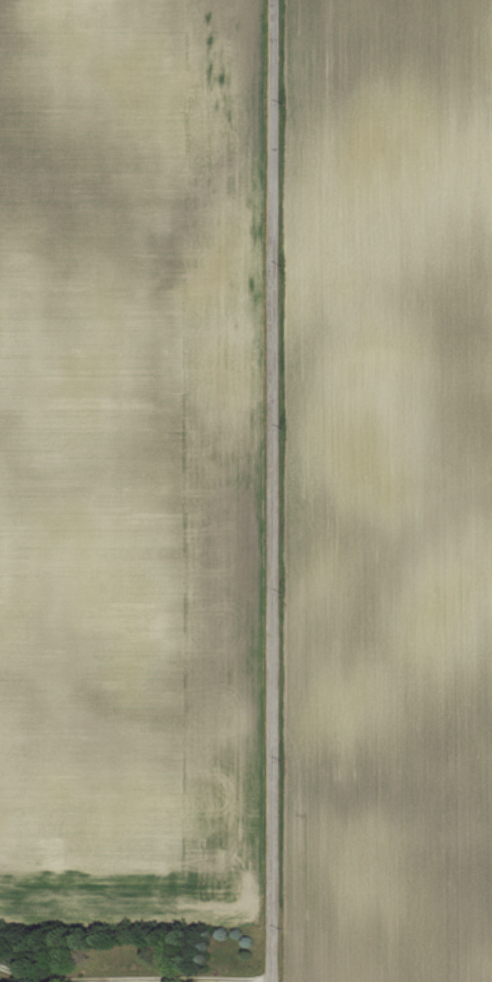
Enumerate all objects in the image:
road: (270, 490)
road: (133, 979)

